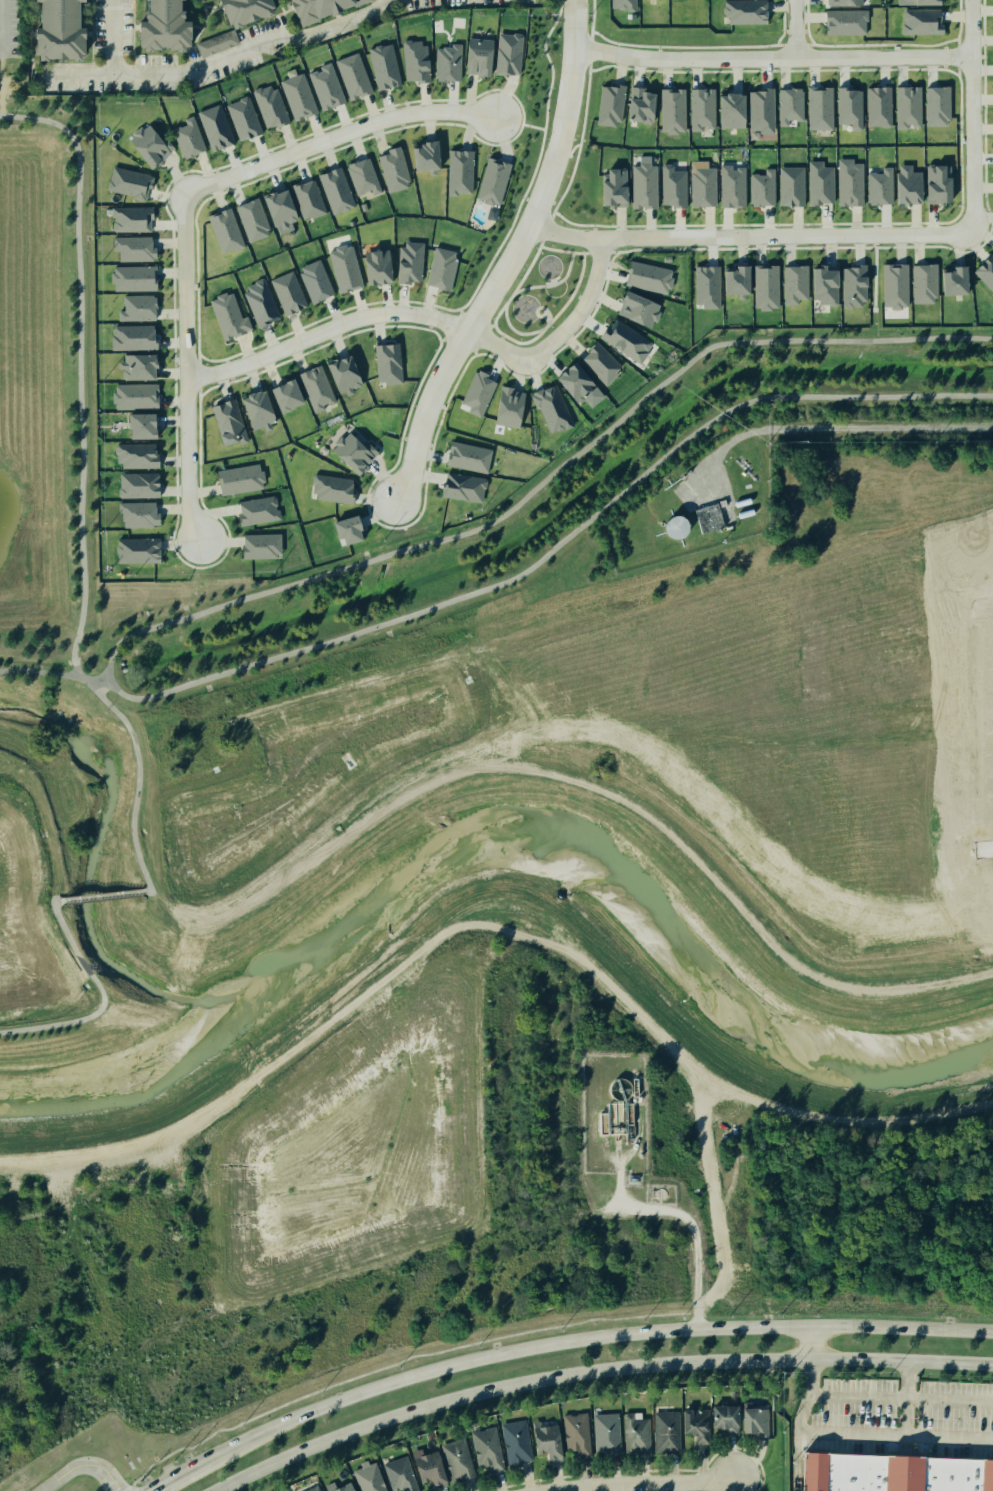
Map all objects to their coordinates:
building: (846, 0)
building: (688, 1)
building: (921, 2)
building: (655, 3)
building: (620, 9)
building: (240, 10)
building: (307, 11)
building: (745, 13)
building: (919, 21)
building: (845, 22)
parking lot: (9, 27)
building: (160, 27)
road: (0, 29)
road: (796, 29)
road: (973, 29)
building: (55, 32)
road: (591, 34)
building: (217, 43)
road: (590, 49)
building: (507, 52)
road: (223, 55)
building: (473, 58)
road: (772, 59)
building: (416, 61)
road: (550, 62)
building: (446, 63)
building: (385, 64)
road: (589, 65)
road: (601, 66)
road: (87, 70)
building: (353, 75)
road: (0, 86)
building: (322, 86)
building: (295, 97)
building: (268, 101)
building: (640, 102)
building: (610, 103)
building: (786, 104)
road: (521, 105)
building: (670, 105)
building: (700, 105)
building: (727, 105)
building: (821, 105)
building: (909, 105)
road: (585, 106)
building: (762, 106)
building: (880, 106)
building: (941, 106)
building: (850, 107)
building: (244, 118)
road: (533, 125)
building: (216, 128)
road: (516, 133)
building: (186, 134)
road: (336, 135)
building: (150, 143)
park: (519, 144)
road: (973, 146)
road: (572, 147)
building: (422, 154)
park: (579, 164)
building: (391, 167)
building: (461, 174)
building: (358, 177)
road: (570, 178)
building: (124, 179)
building: (491, 182)
building: (818, 183)
building: (644, 184)
building: (699, 185)
building: (846, 185)
building: (672, 186)
building: (911, 186)
building: (942, 186)
building: (613, 187)
building: (731, 187)
building: (881, 187)
building: (757, 188)
building: (791, 188)
building: (335, 190)
building: (307, 199)
building: (279, 206)
building: (491, 213)
road: (553, 214)
building: (251, 218)
building: (129, 220)
road: (512, 222)
road: (573, 222)
road: (546, 227)
building: (221, 230)
road: (751, 236)
road: (541, 242)
building: (992, 244)
road: (555, 248)
road: (654, 248)
building: (132, 249)
road: (599, 251)
road: (614, 251)
road: (577, 252)
road: (586, 252)
road: (613, 255)
road: (511, 260)
building: (410, 262)
building: (437, 266)
building: (340, 267)
building: (377, 267)
road: (526, 269)
road: (568, 269)
building: (986, 271)
building: (650, 277)
road: (554, 278)
road: (554, 279)
building: (135, 280)
building: (312, 280)
road: (551, 280)
road: (553, 281)
road: (555, 281)
building: (920, 281)
building: (958, 281)
road: (548, 282)
building: (852, 282)
building: (735, 283)
building: (796, 283)
road: (546, 284)
road: (551, 284)
building: (825, 284)
building: (895, 285)
road: (528, 286)
building: (707, 286)
road: (574, 289)
park: (541, 291)
building: (761, 294)
building: (282, 295)
road: (509, 297)
building: (256, 299)
road: (445, 307)
building: (136, 308)
building: (638, 309)
road: (460, 310)
road: (536, 310)
road: (544, 311)
building: (224, 312)
road: (497, 312)
road: (548, 312)
road: (545, 317)
road: (475, 318)
road: (549, 322)
road: (492, 324)
road: (546, 325)
road: (514, 329)
road: (327, 331)
road: (560, 336)
building: (626, 338)
building: (133, 339)
road: (518, 341)
building: (600, 361)
building: (388, 363)
building: (338, 368)
building: (140, 369)
road: (187, 369)
building: (579, 380)
building: (313, 382)
building: (284, 389)
building: (474, 392)
road: (80, 393)
building: (135, 399)
building: (252, 404)
building: (552, 406)
building: (507, 408)
building: (227, 418)
building: (138, 426)
road: (834, 428)
building: (356, 450)
building: (466, 453)
building: (136, 457)
building: (239, 479)
road: (541, 480)
building: (139, 484)
building: (464, 488)
building: (331, 490)
building: (723, 503)
building: (258, 507)
building: (137, 512)
building: (708, 518)
building: (676, 527)
building: (345, 528)
road: (557, 543)
building: (257, 547)
building: (137, 551)
park: (463, 552)
road: (799, 657)
road: (12, 670)
road: (88, 682)
road: (103, 685)
crop: (795, 696)
road: (901, 744)
road: (137, 784)
road: (816, 818)
river: (495, 820)
road: (984, 850)
road: (302, 866)
road: (154, 889)
road: (103, 894)
road: (781, 950)
road: (102, 998)
building: (612, 1116)
road: (680, 1214)
road: (803, 1327)
road: (808, 1343)
road: (594, 1370)
road: (404, 1379)
road: (898, 1396)
building: (719, 1417)
building: (752, 1423)
building: (690, 1424)
building: (663, 1431)
road: (814, 1432)
building: (602, 1434)
building: (633, 1434)
building: (571, 1436)
road: (910, 1436)
building: (542, 1439)
building: (512, 1440)
building: (483, 1451)
building: (454, 1460)
road: (80, 1467)
building: (426, 1469)
building: (890, 1472)
road: (178, 1475)
building: (396, 1475)
building: (365, 1477)
road: (642, 1485)
building: (339, 1486)
building: (309, 1488)

